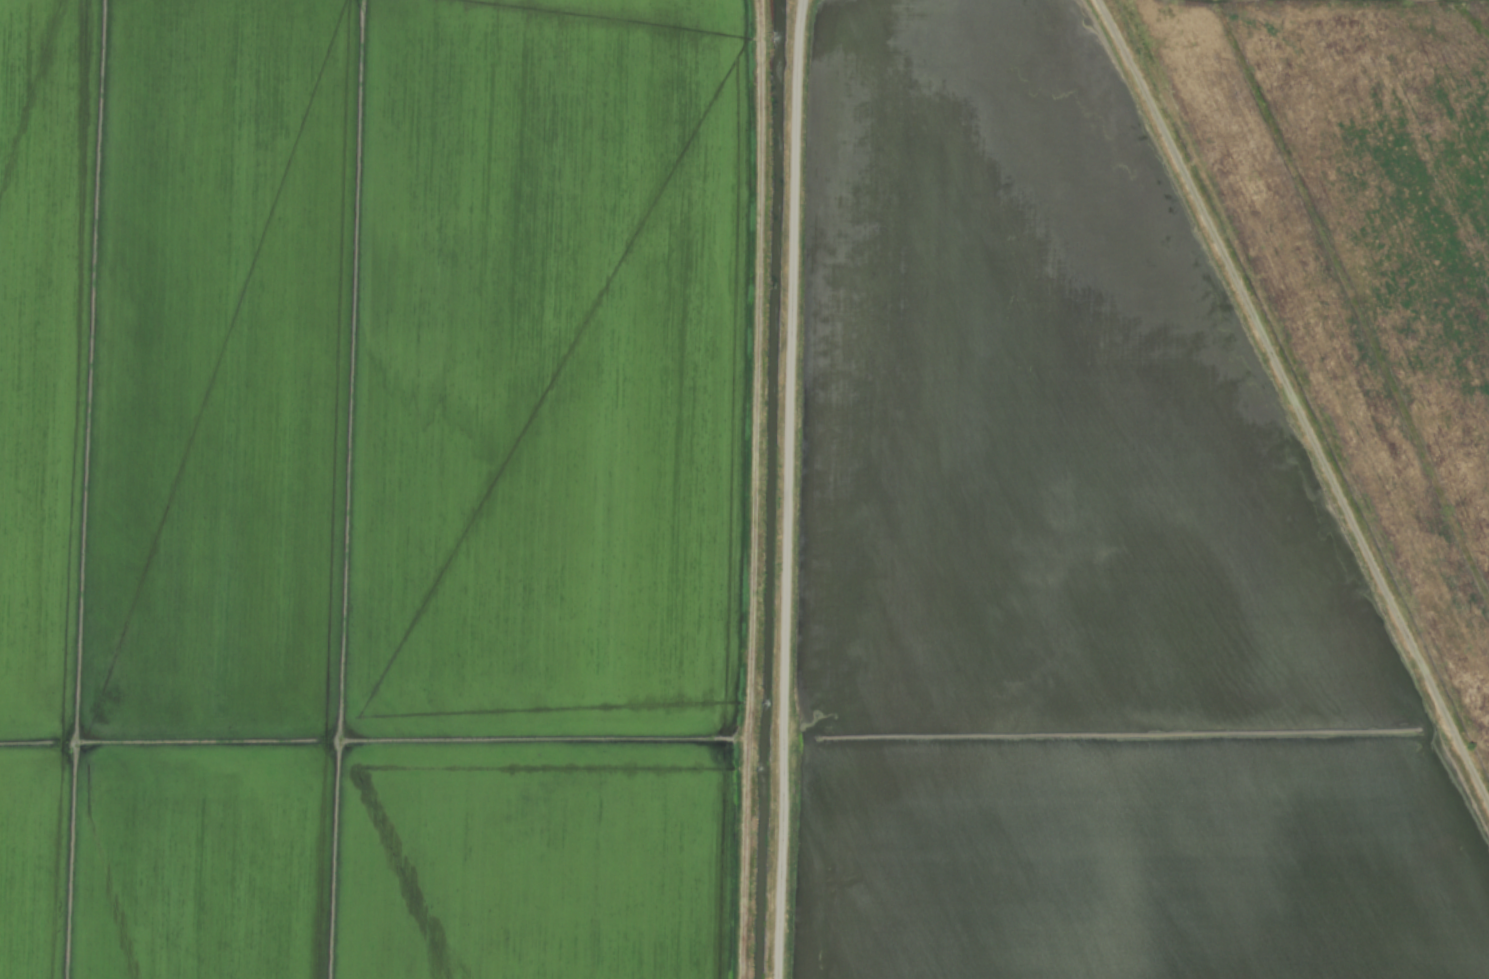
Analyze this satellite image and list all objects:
road: (799, 59)
crop: (744, 489)
road: (790, 549)

